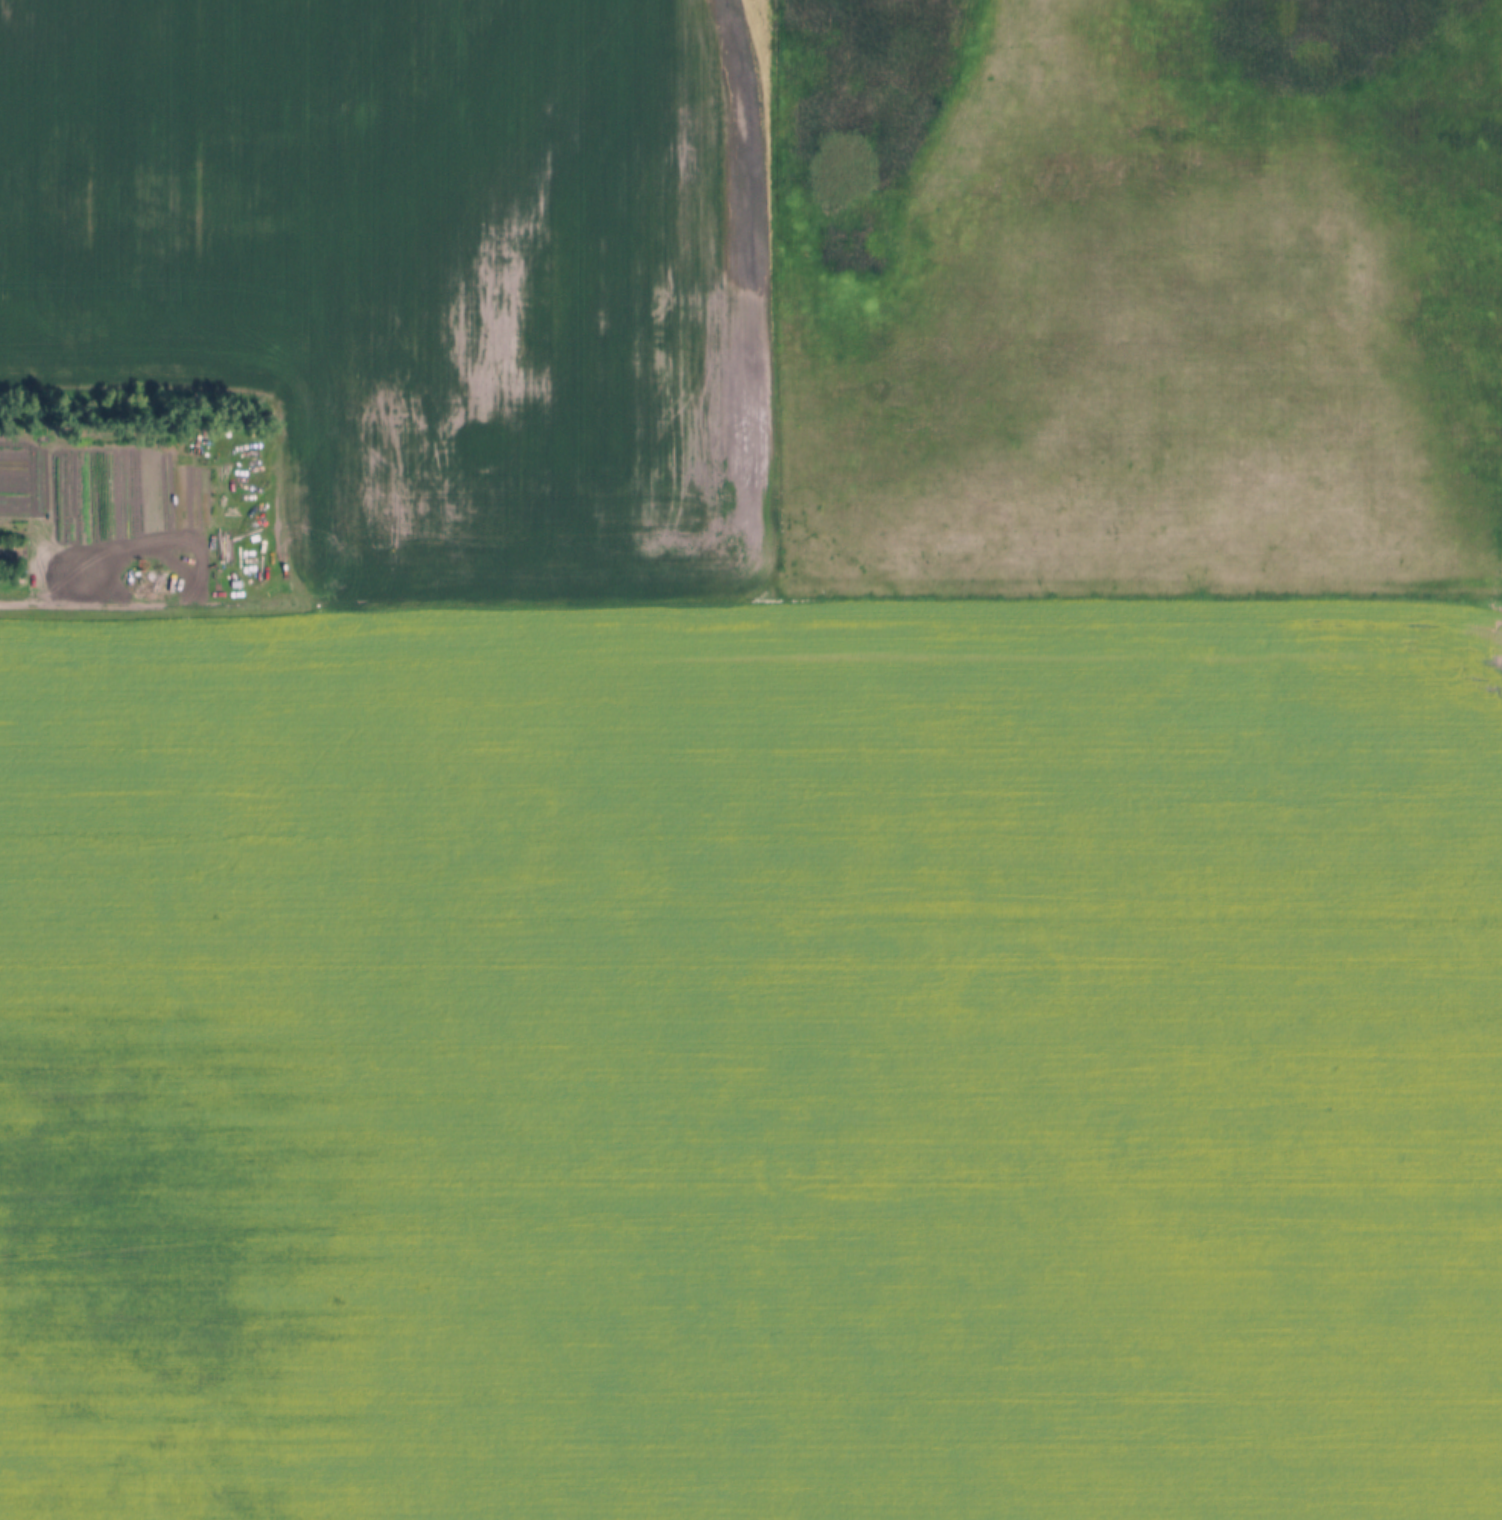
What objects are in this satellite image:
road: (751, 598)

